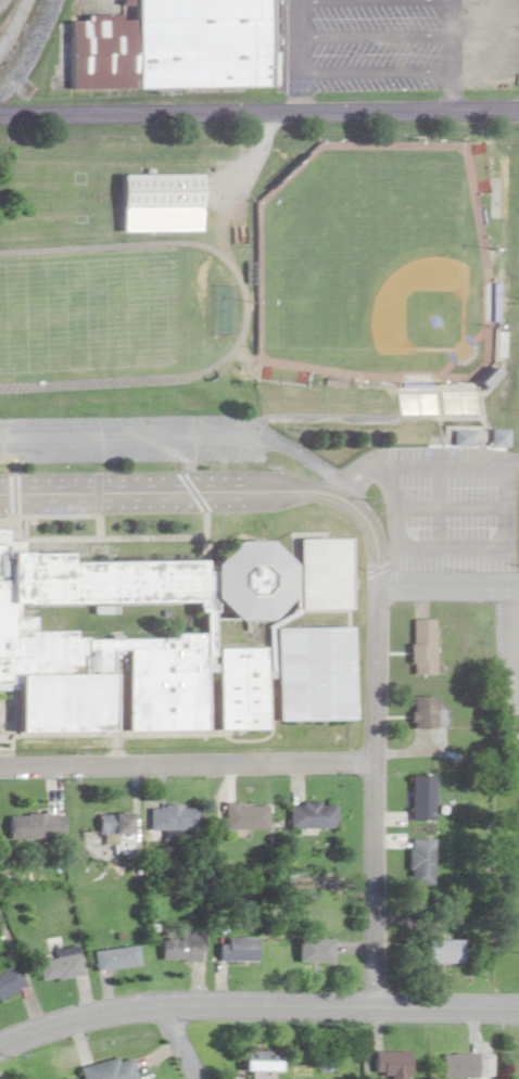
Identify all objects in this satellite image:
building: (164, 48)
road: (259, 112)
building: (155, 191)
park: (375, 263)
building: (459, 436)
road: (220, 491)
road: (446, 585)
road: (372, 600)
building: (134, 643)
building: (417, 647)
building: (305, 674)
building: (418, 712)
road: (186, 766)
building: (419, 796)
road: (372, 810)
building: (308, 816)
building: (241, 817)
building: (172, 818)
building: (30, 827)
building: (114, 830)
building: (418, 866)
building: (177, 945)
building: (231, 949)
building: (311, 950)
building: (438, 951)
building: (112, 959)
building: (56, 965)
building: (9, 981)
road: (256, 1005)
road: (175, 1042)
building: (254, 1063)
building: (387, 1064)
building: (455, 1065)
building: (102, 1070)

